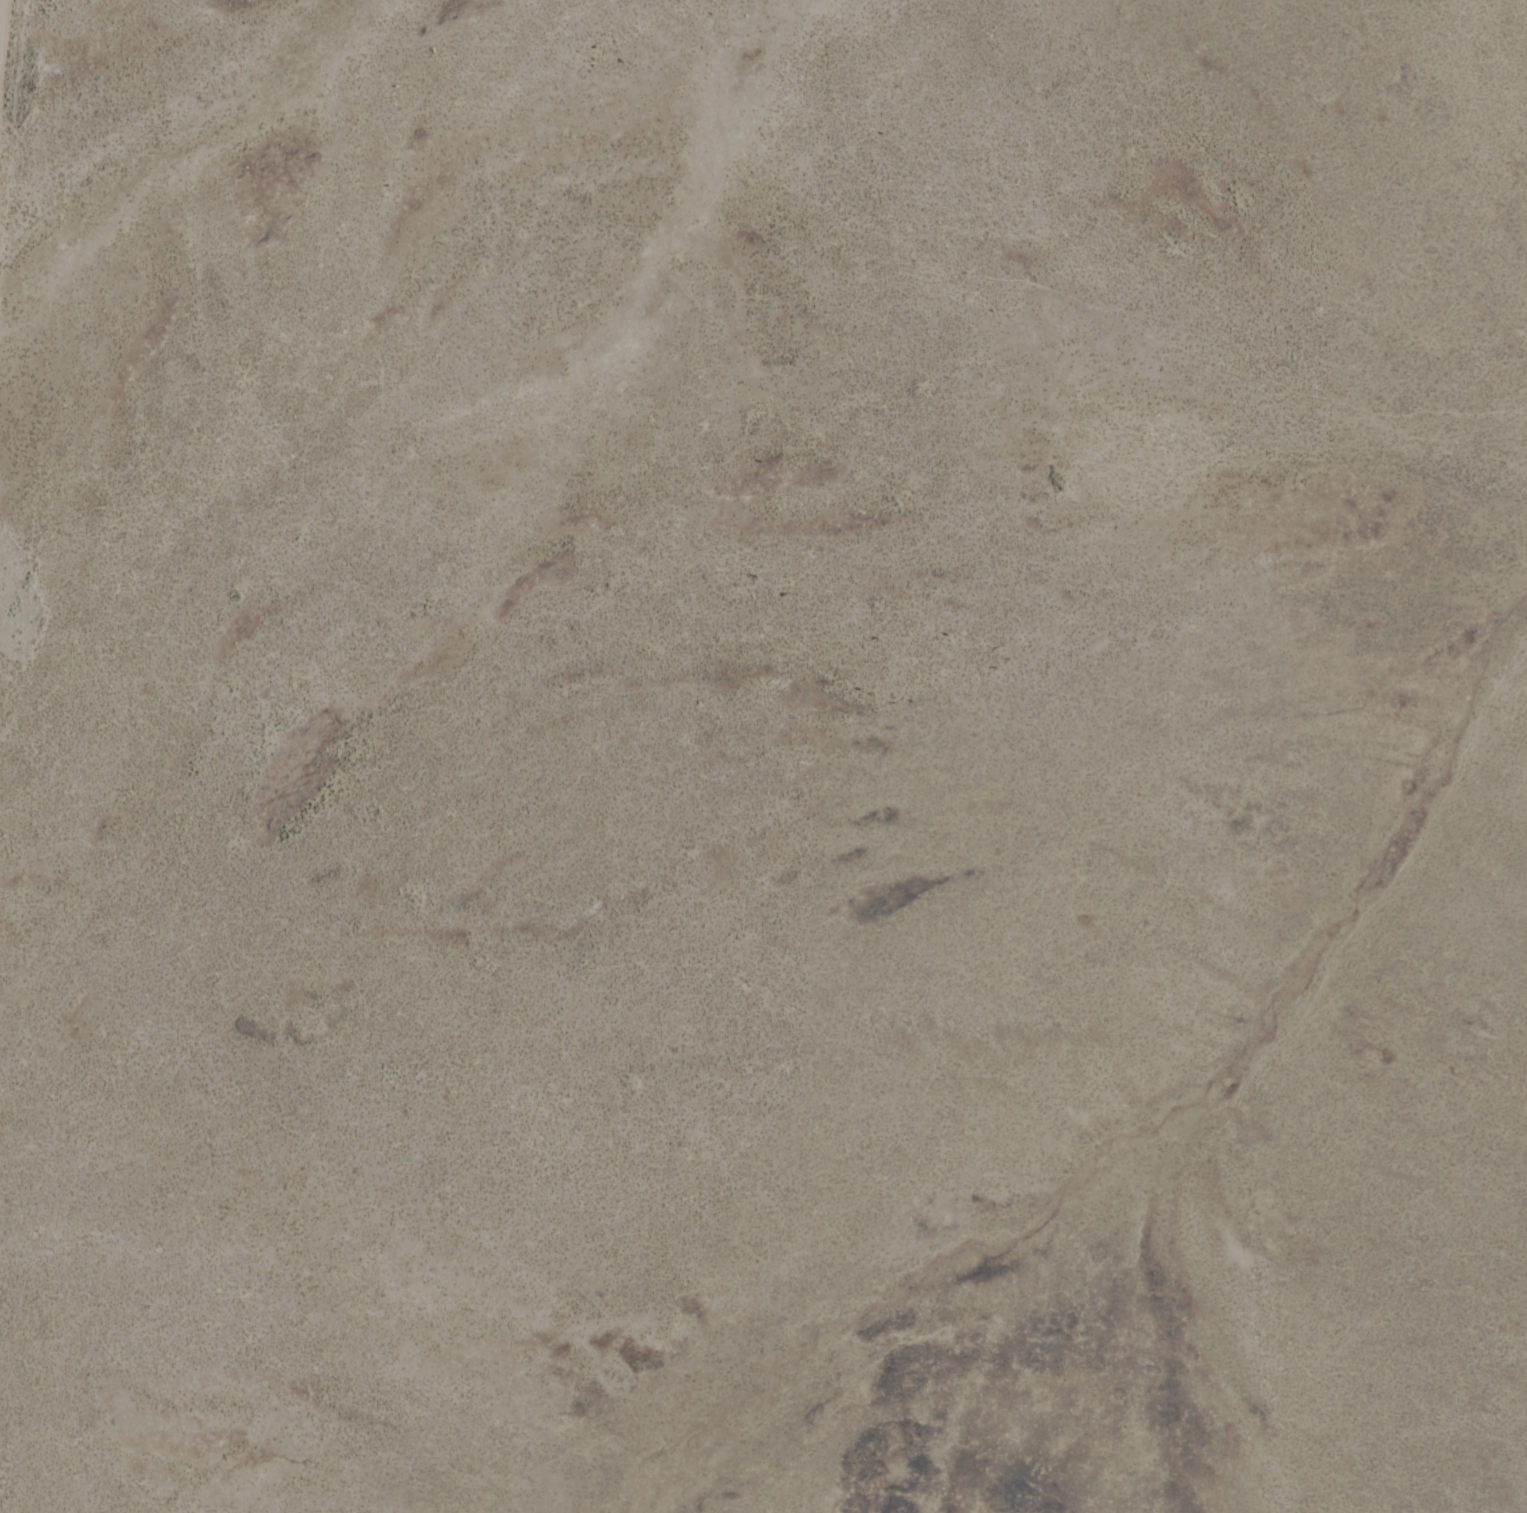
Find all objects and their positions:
road: (0, 1)

